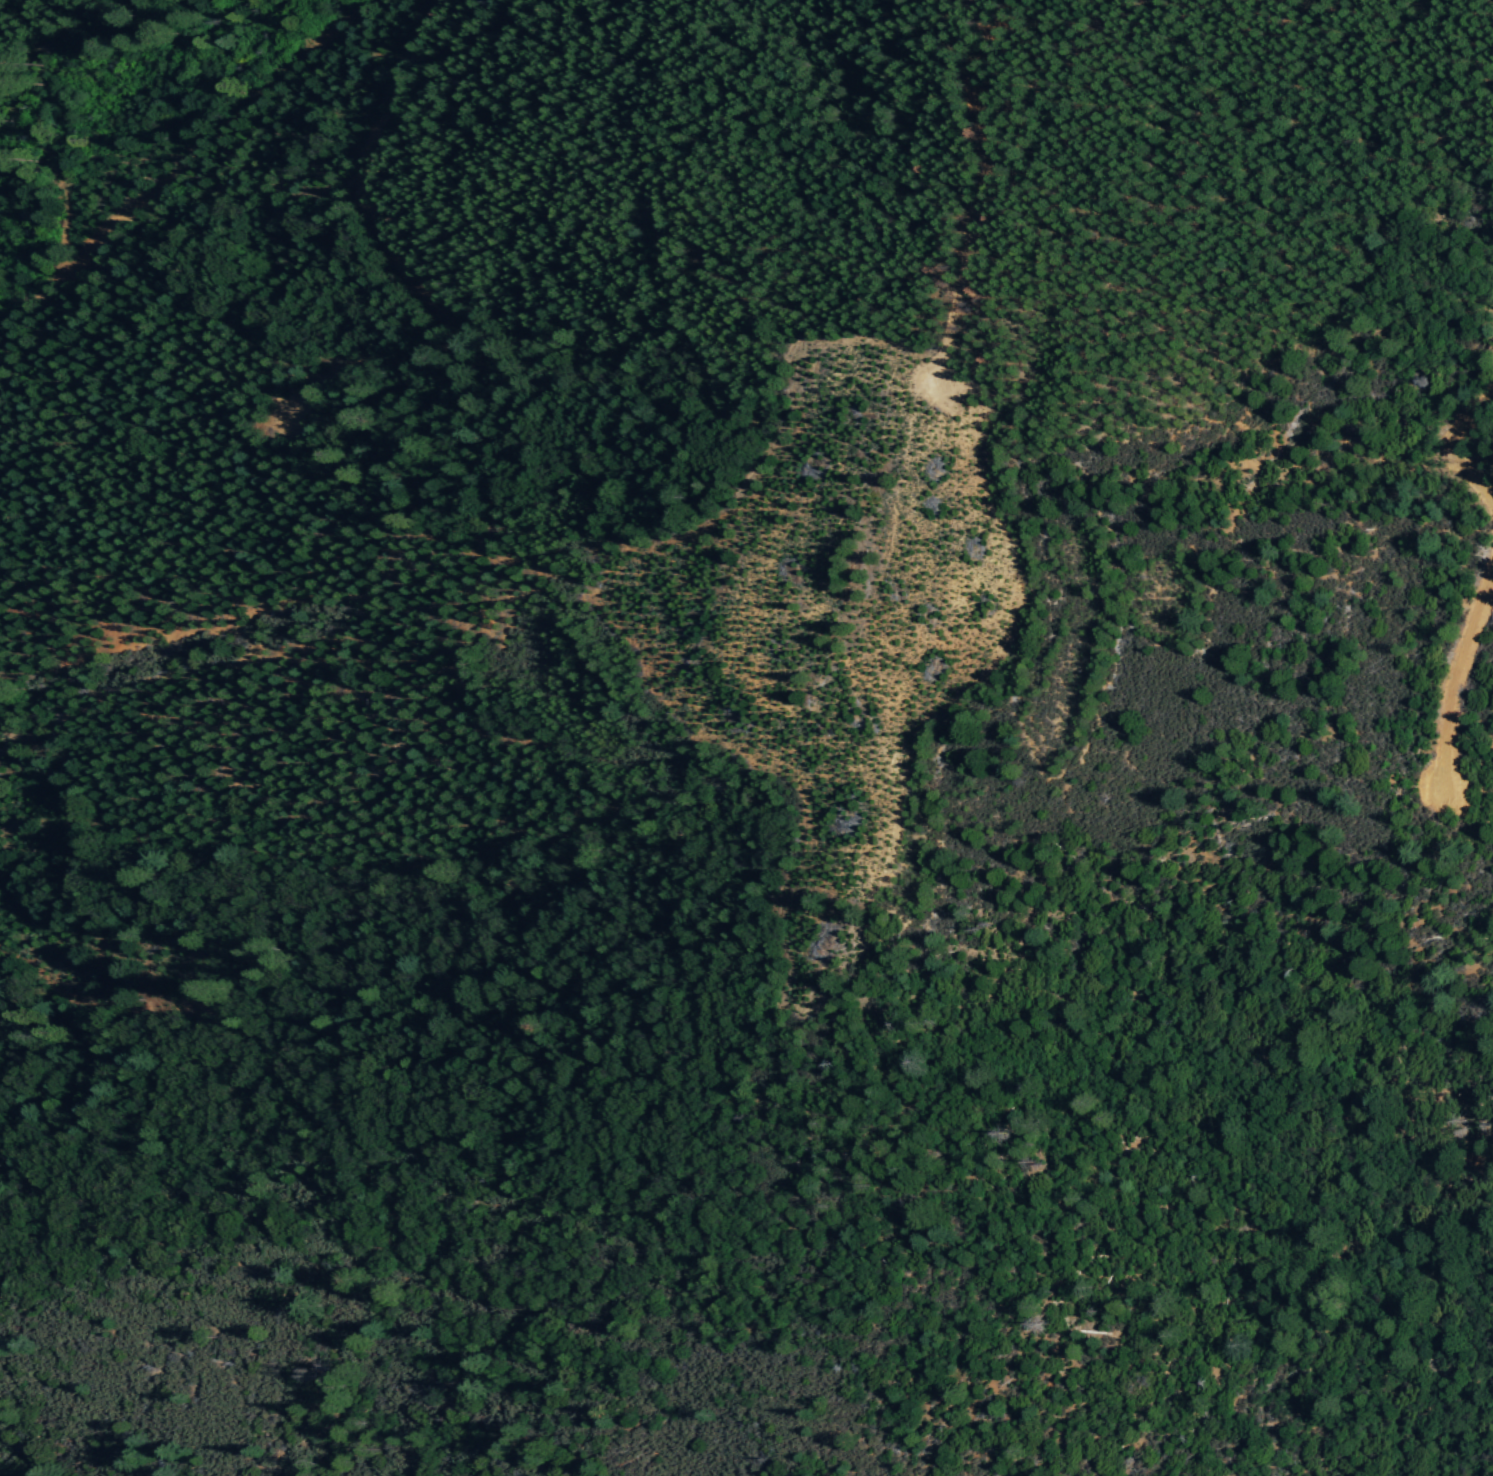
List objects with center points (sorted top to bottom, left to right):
road: (172, 157)
road: (981, 191)

